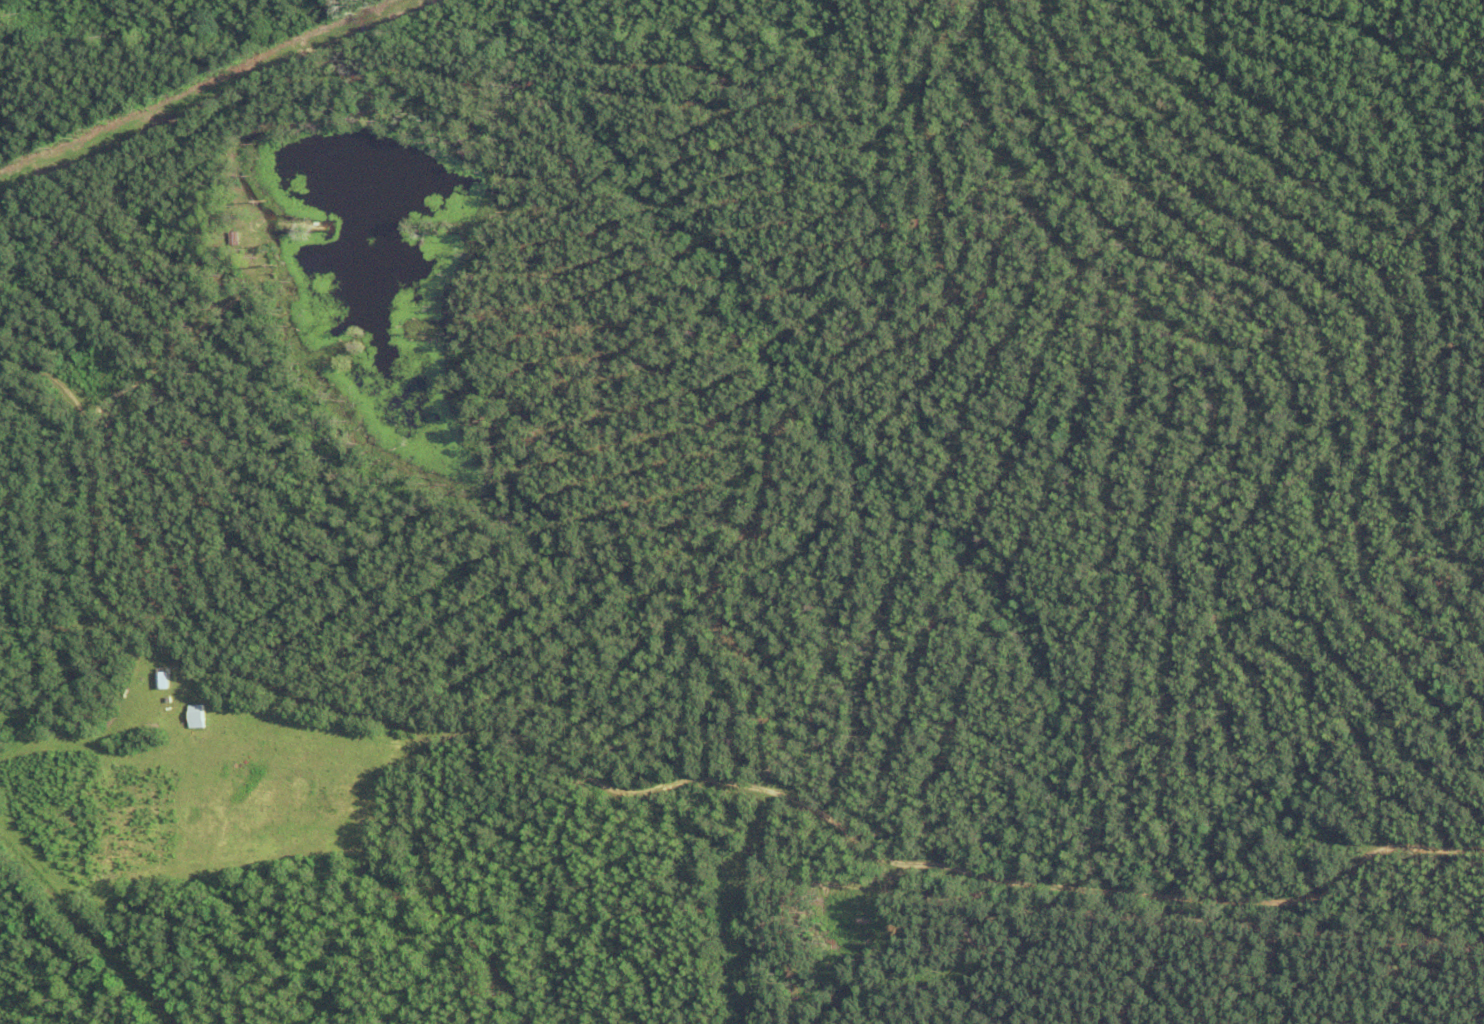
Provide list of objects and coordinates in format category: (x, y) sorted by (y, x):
building: (161, 678)
building: (196, 715)
road: (834, 818)

